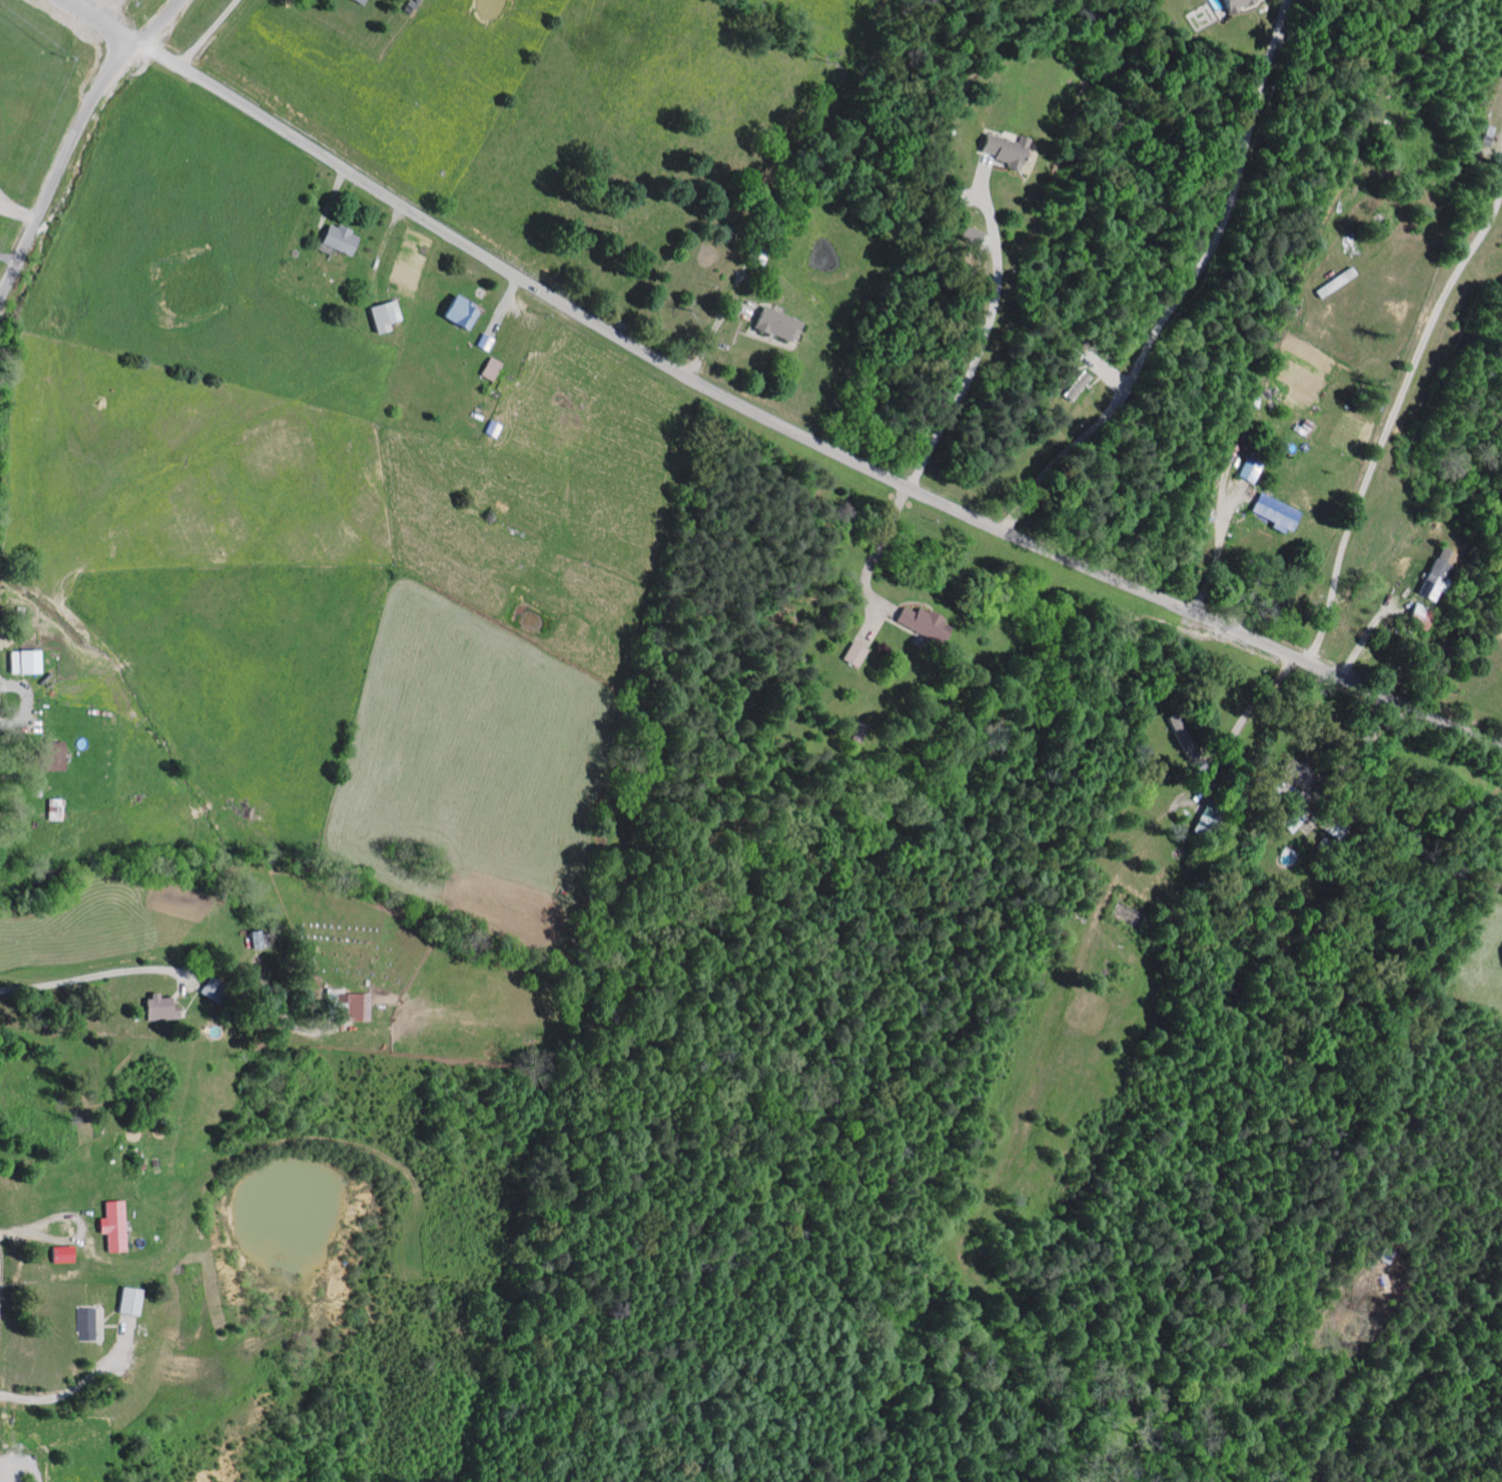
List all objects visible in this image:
building: (357, 2)
building: (1234, 3)
road: (102, 21)
road: (160, 22)
road: (213, 35)
building: (1003, 149)
road: (61, 165)
road: (17, 213)
building: (969, 236)
building: (337, 239)
road: (8, 260)
road: (1184, 290)
building: (458, 313)
building: (383, 316)
building: (773, 324)
road: (984, 340)
building: (486, 343)
building: (491, 369)
building: (1075, 387)
road: (1389, 420)
building: (492, 430)
road: (799, 438)
building: (1249, 466)
building: (1273, 512)
road: (877, 549)
road: (1216, 557)
building: (1437, 574)
building: (1501, 614)
building: (922, 624)
building: (852, 655)
building: (24, 663)
road: (1246, 722)
building: (52, 757)
building: (54, 810)
road: (99, 977)
building: (346, 1006)
building: (157, 1008)
building: (110, 1225)
building: (60, 1254)
building: (126, 1301)
building: (84, 1324)
road: (81, 1387)
road: (24, 1463)

